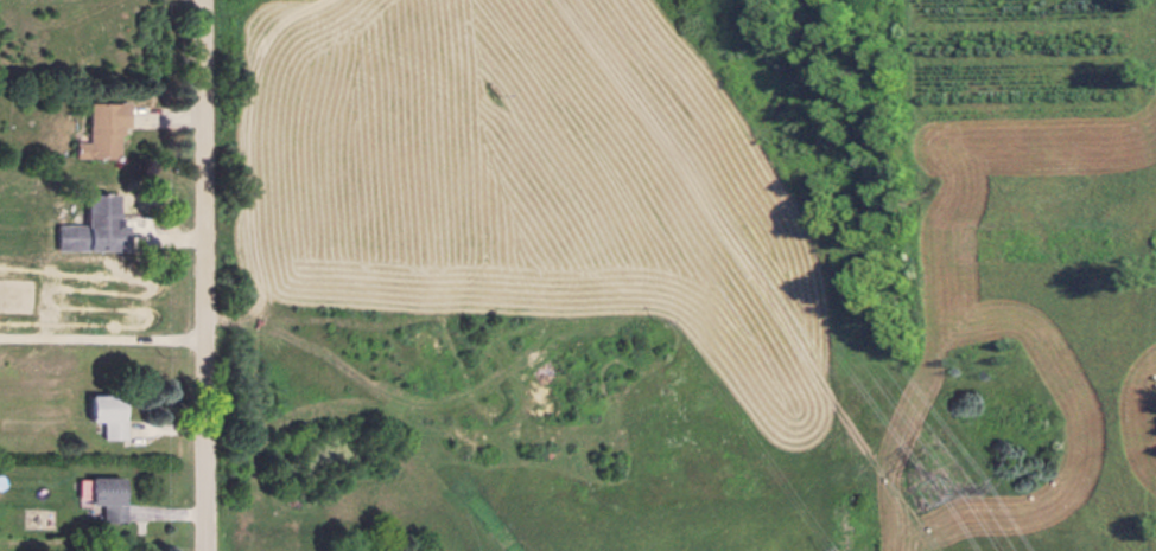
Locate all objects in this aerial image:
building: (91, 132)
road: (210, 275)
road: (104, 335)
building: (113, 415)
power tower: (917, 489)
building: (108, 496)

